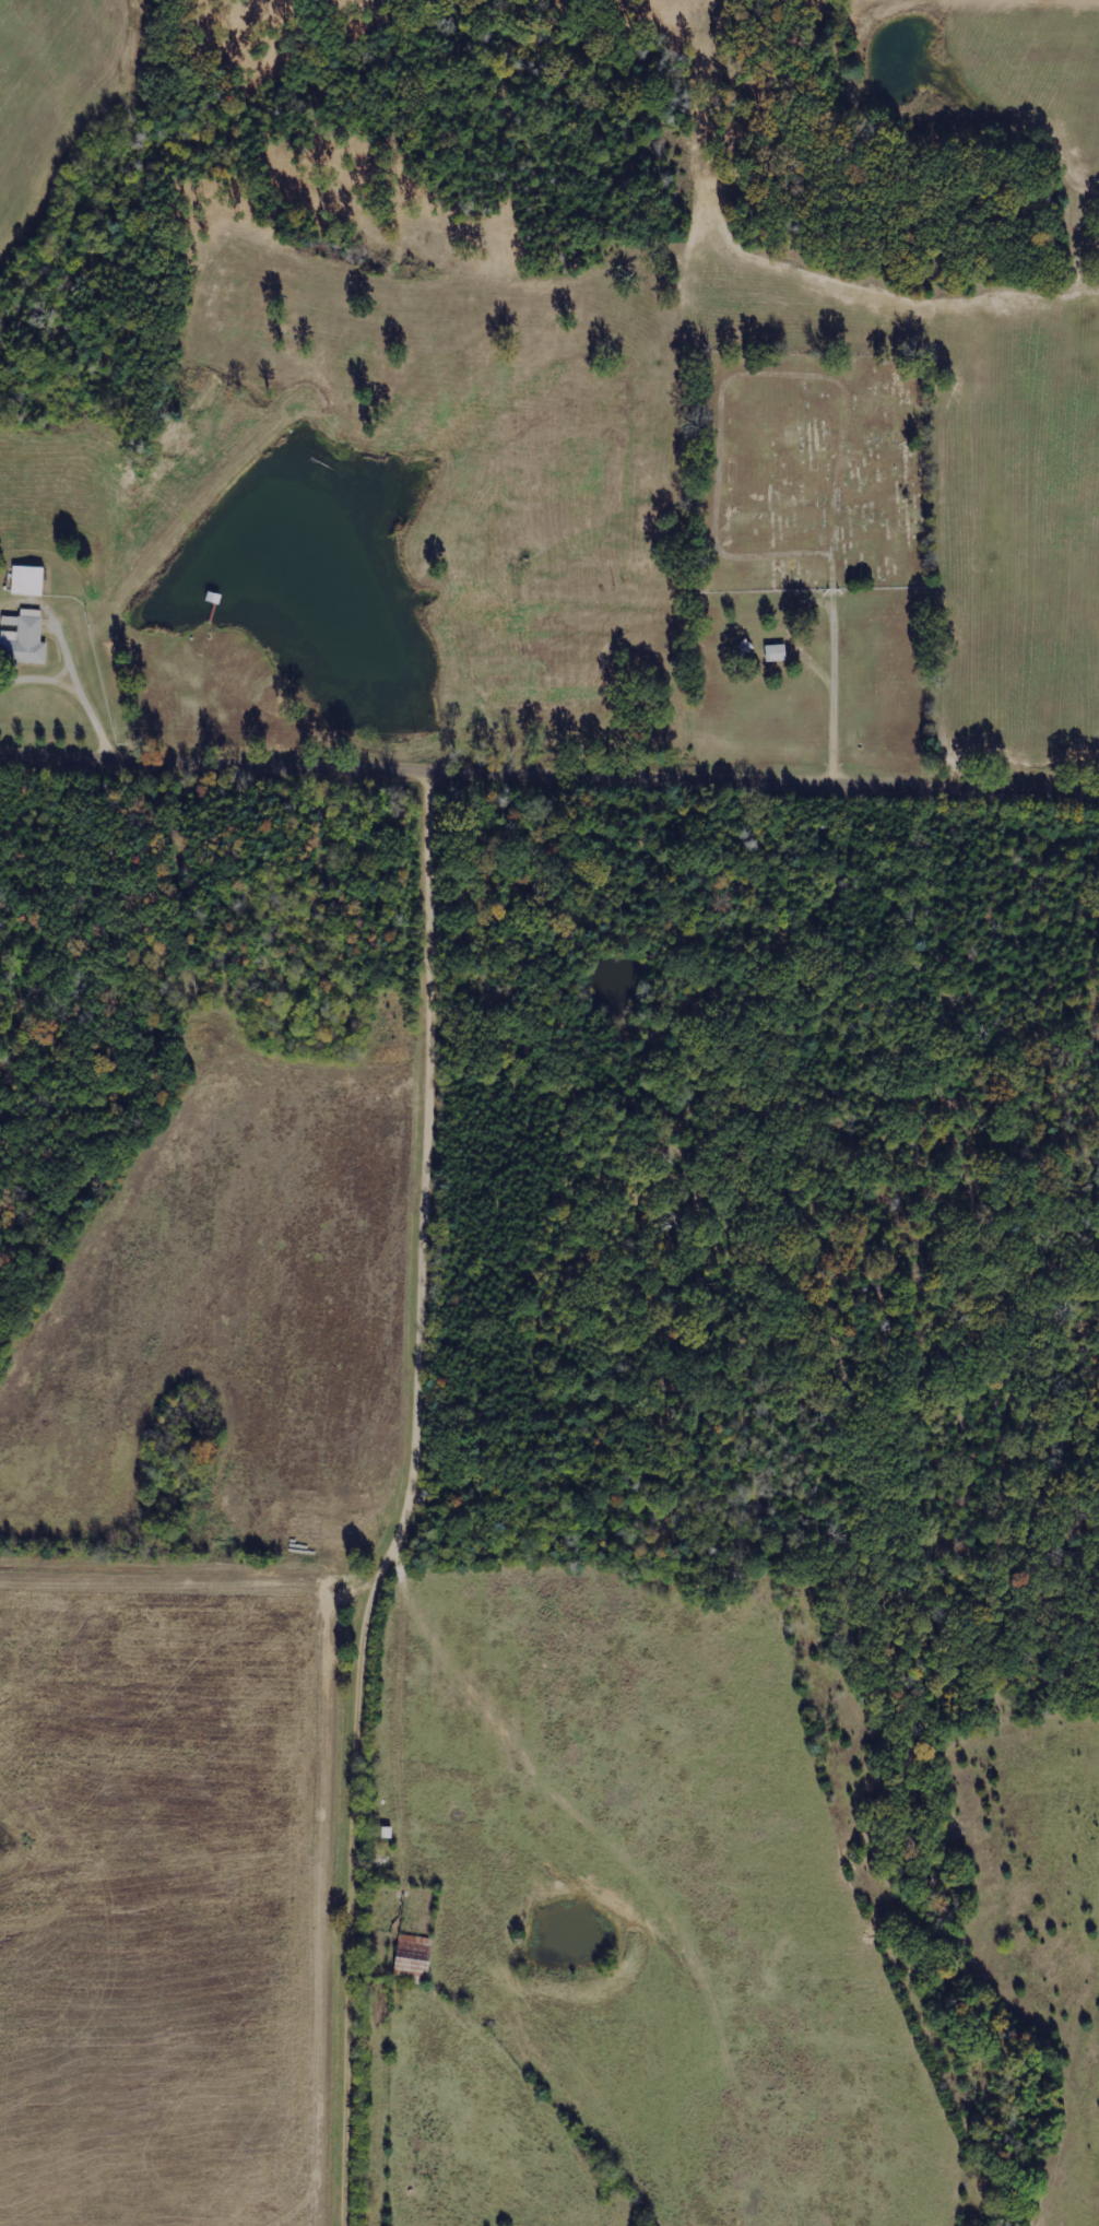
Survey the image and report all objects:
park: (805, 473)
building: (29, 580)
building: (24, 636)
building: (778, 652)
road: (221, 762)
road: (704, 778)
road: (1032, 787)
road: (400, 1500)
building: (416, 1942)
building: (414, 1967)

